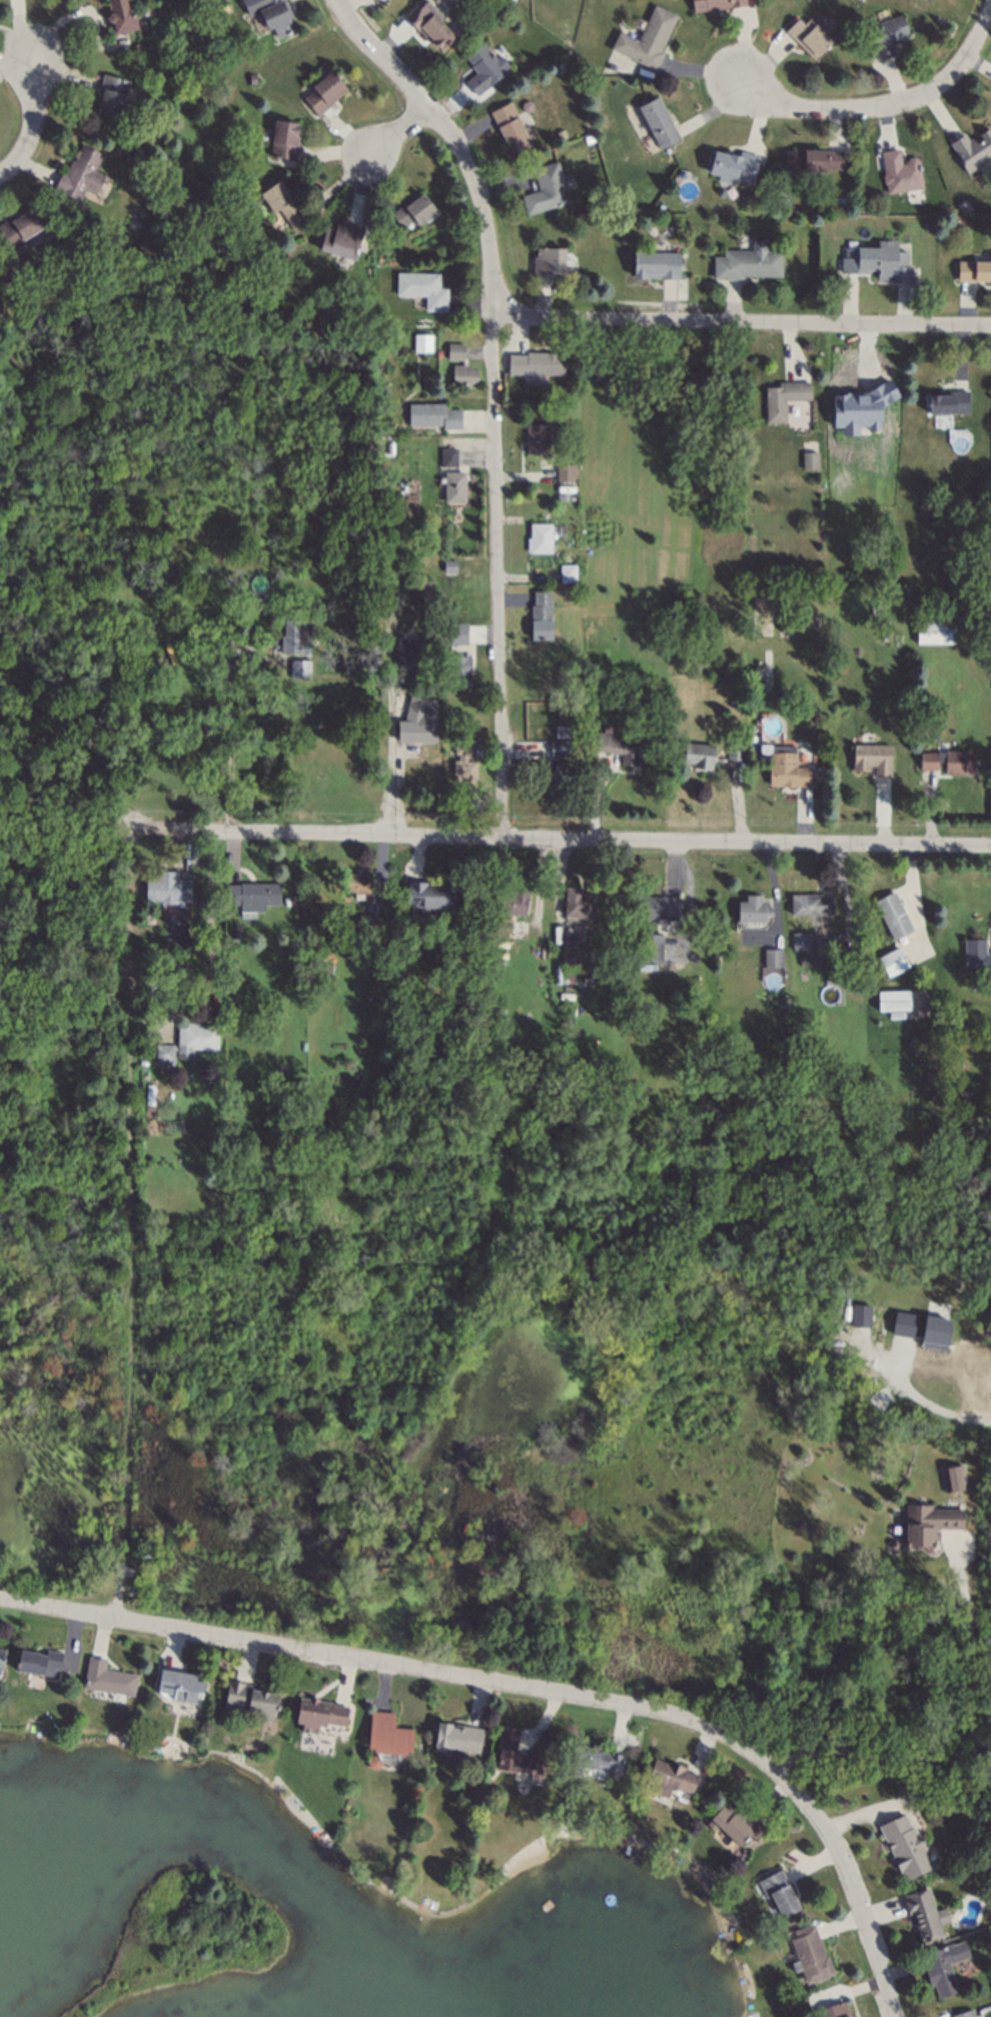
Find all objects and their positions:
building: (509, 0)
building: (712, 3)
building: (117, 13)
building: (269, 14)
building: (426, 22)
building: (883, 34)
building: (805, 35)
building: (644, 37)
building: (133, 46)
building: (480, 68)
building: (168, 75)
building: (250, 77)
building: (320, 90)
building: (109, 93)
building: (524, 104)
road: (888, 108)
road: (29, 119)
building: (656, 121)
building: (507, 126)
road: (399, 130)
building: (559, 133)
road: (452, 137)
building: (281, 138)
building: (972, 148)
building: (811, 159)
building: (730, 163)
building: (75, 171)
building: (898, 171)
building: (198, 177)
building: (544, 187)
building: (744, 195)
building: (280, 203)
building: (962, 207)
building: (410, 209)
building: (17, 226)
building: (926, 226)
building: (339, 238)
building: (377, 239)
building: (143, 249)
building: (269, 258)
building: (546, 260)
building: (875, 261)
building: (653, 263)
building: (744, 263)
building: (973, 268)
building: (7, 269)
building: (333, 287)
building: (419, 288)
road: (742, 316)
building: (419, 338)
building: (450, 346)
building: (455, 351)
building: (435, 352)
building: (537, 363)
building: (459, 372)
building: (777, 397)
building: (951, 400)
building: (533, 411)
building: (434, 416)
building: (534, 437)
building: (809, 444)
building: (444, 454)
building: (810, 461)
building: (561, 472)
building: (451, 485)
building: (536, 535)
building: (563, 570)
road: (497, 574)
building: (422, 594)
building: (288, 596)
building: (542, 615)
building: (780, 622)
building: (932, 629)
building: (291, 634)
building: (454, 636)
building: (140, 647)
building: (406, 654)
building: (297, 667)
building: (454, 668)
building: (394, 701)
road: (388, 715)
building: (926, 719)
building: (413, 723)
building: (558, 728)
road: (227, 740)
building: (556, 743)
building: (626, 745)
building: (731, 748)
building: (696, 753)
building: (868, 753)
building: (945, 756)
building: (460, 759)
building: (558, 768)
building: (785, 772)
road: (557, 837)
building: (355, 878)
building: (163, 882)
building: (250, 891)
building: (434, 896)
building: (510, 897)
building: (573, 898)
building: (806, 900)
building: (656, 904)
building: (749, 906)
building: (890, 916)
building: (365, 923)
building: (499, 923)
building: (232, 932)
building: (798, 935)
building: (181, 936)
building: (647, 944)
building: (976, 954)
building: (771, 956)
building: (802, 956)
building: (571, 957)
building: (832, 959)
building: (893, 960)
building: (891, 998)
building: (482, 1016)
building: (198, 1032)
building: (162, 1049)
building: (928, 1072)
building: (817, 1084)
building: (296, 1093)
building: (173, 1138)
building: (174, 1153)
building: (860, 1315)
building: (884, 1321)
building: (905, 1324)
building: (932, 1325)
road: (928, 1403)
road: (990, 1422)
building: (952, 1476)
building: (924, 1521)
building: (119, 1566)
building: (2, 1657)
building: (39, 1660)
building: (105, 1675)
building: (178, 1683)
road: (532, 1690)
building: (248, 1696)
building: (317, 1711)
building: (386, 1732)
building: (453, 1733)
road: (955, 1737)
building: (511, 1752)
building: (594, 1754)
building: (372, 1759)
building: (671, 1770)
building: (735, 1821)
building: (904, 1845)
building: (777, 1889)
building: (921, 1909)
park: (190, 1938)
building: (810, 1953)
building: (938, 1968)
building: (834, 2009)
building: (961, 2013)

